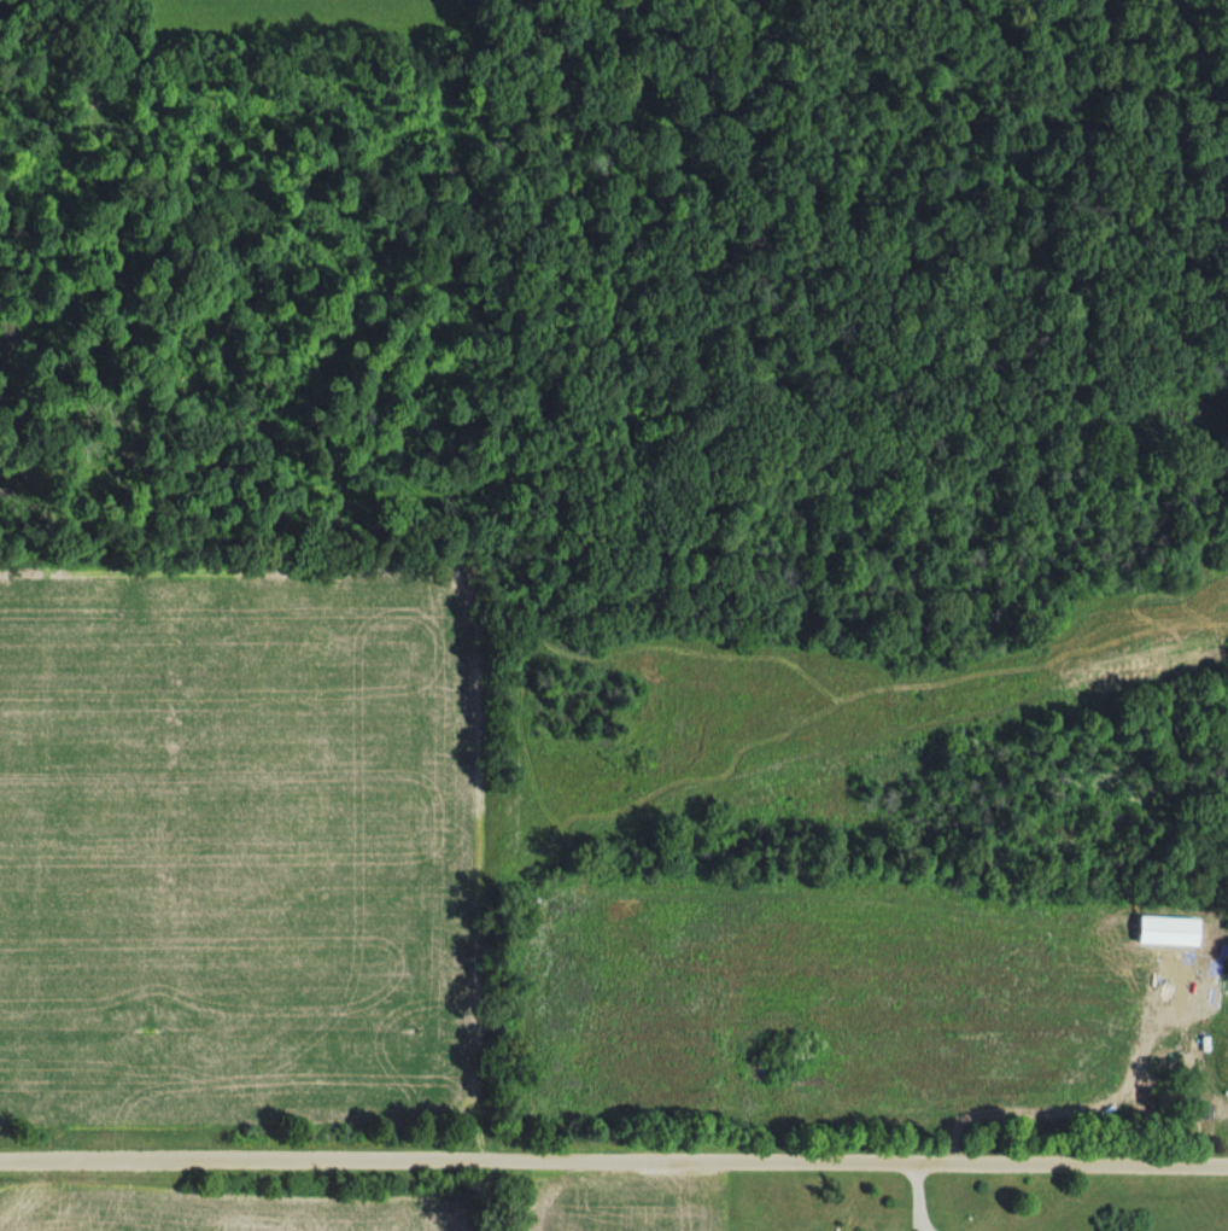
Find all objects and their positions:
building: (1222, 1108)
road: (613, 1156)

